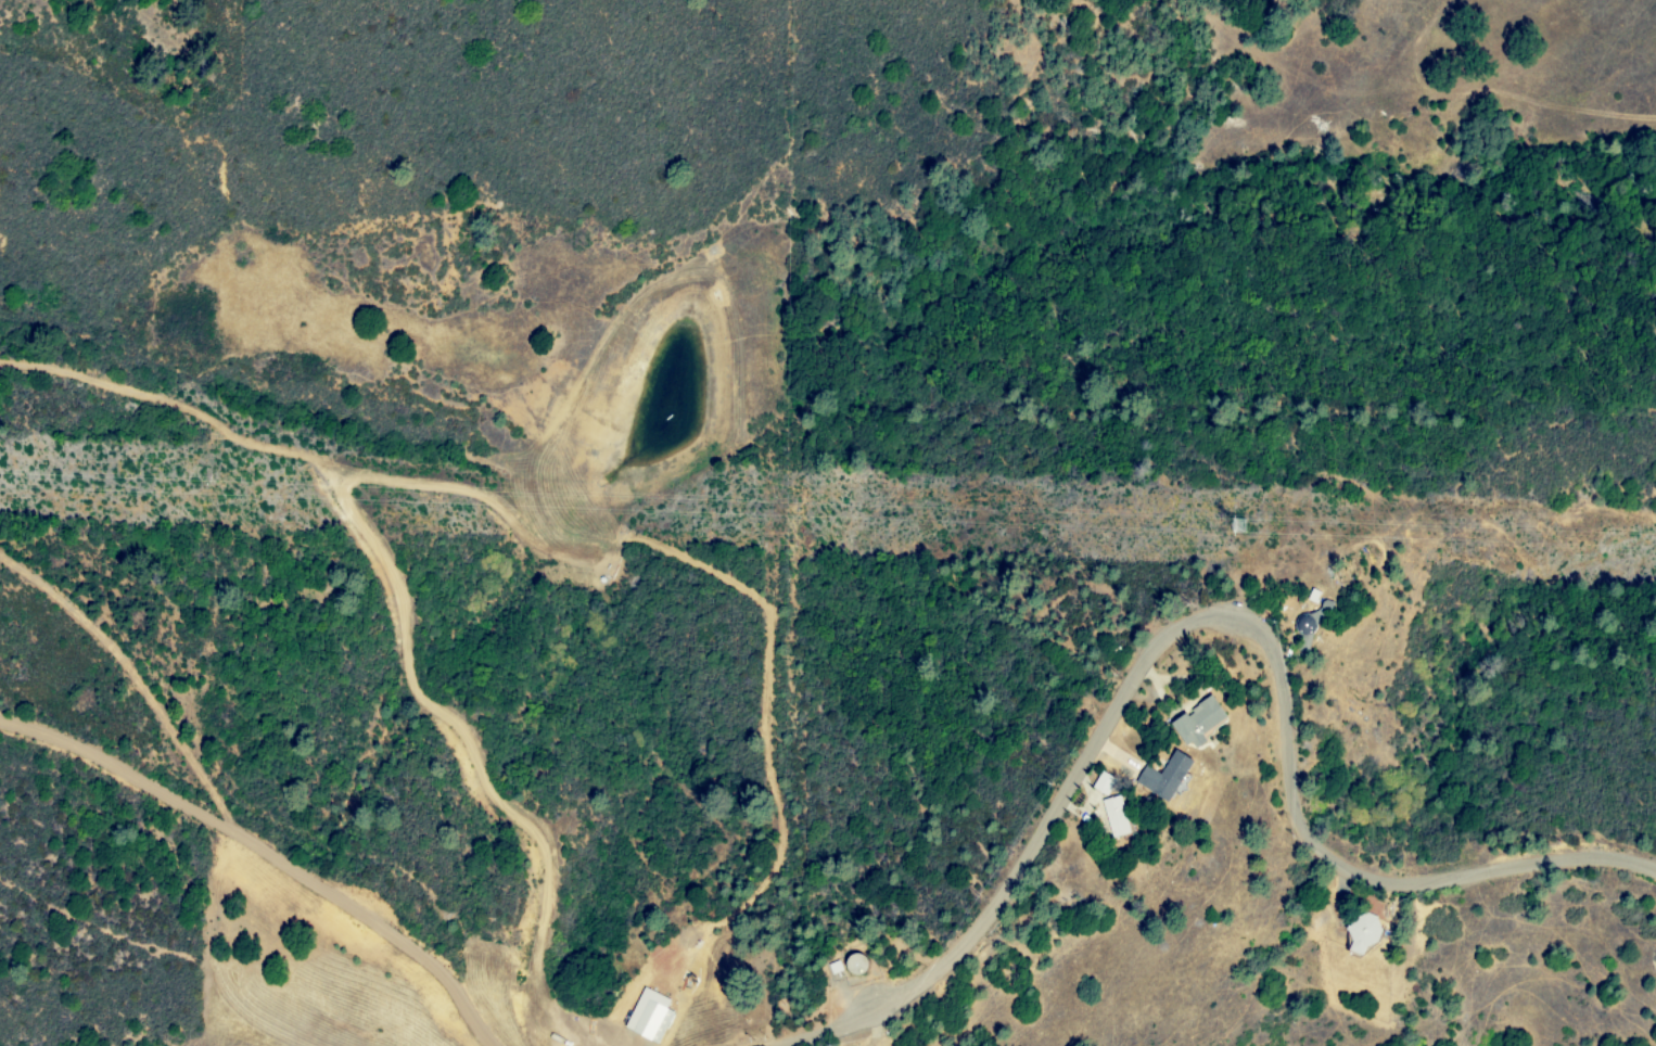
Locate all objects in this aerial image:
power tower: (1251, 546)
road: (1206, 617)
building: (1197, 722)
building: (1164, 776)
building: (1099, 781)
road: (1139, 811)
building: (1114, 815)
road: (267, 851)
building: (1362, 934)
building: (649, 1016)

